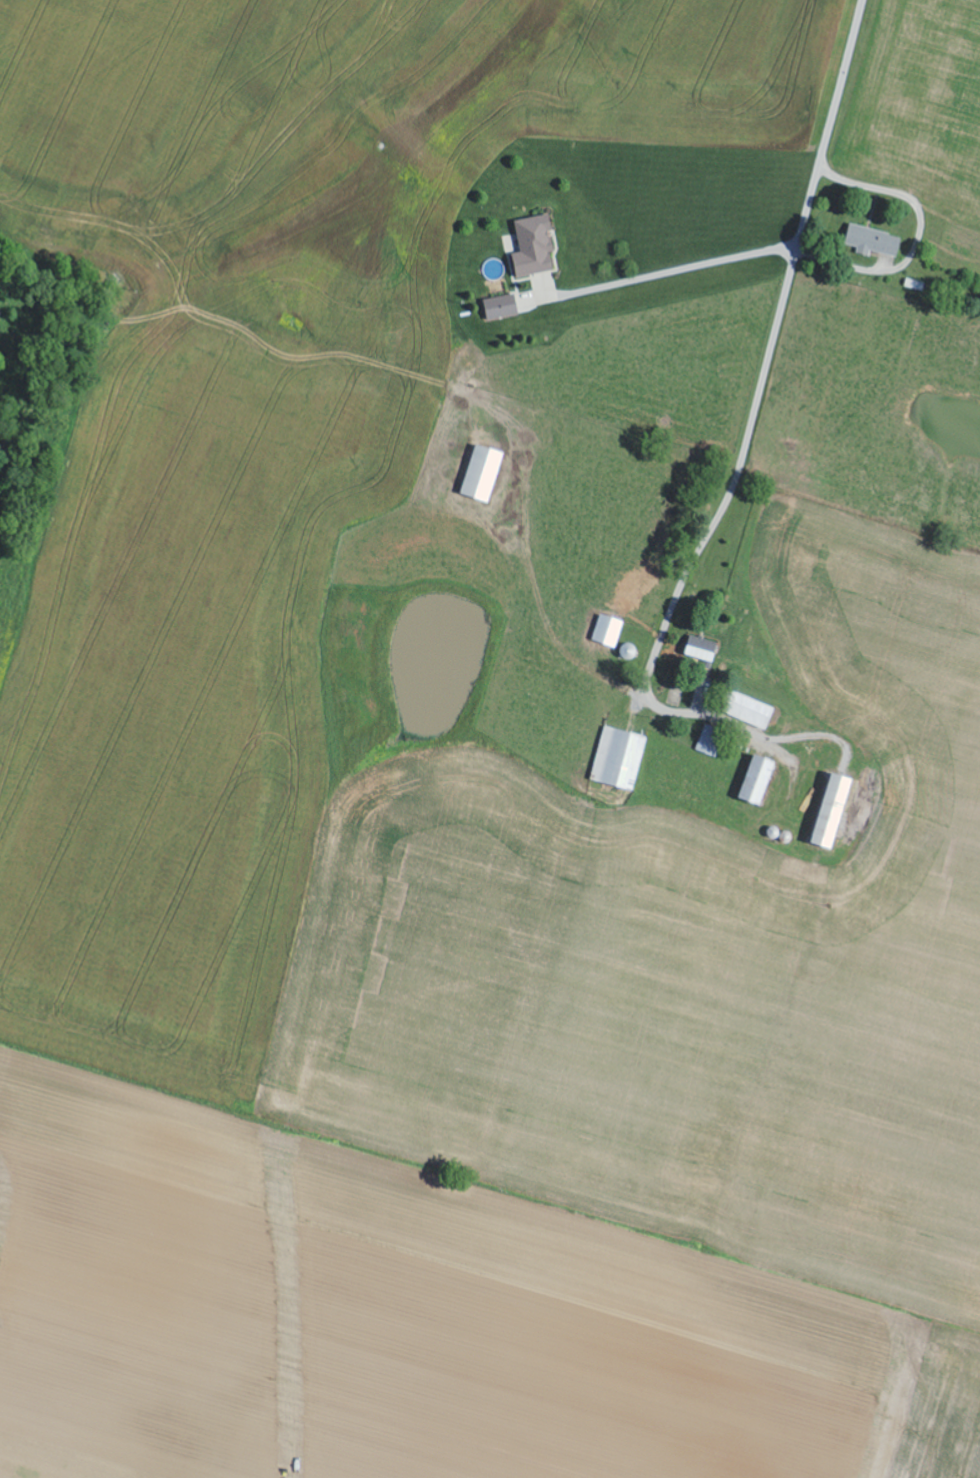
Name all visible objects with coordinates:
building: (873, 242)
building: (535, 247)
building: (502, 308)
road: (762, 386)
building: (483, 473)
building: (608, 631)
building: (702, 649)
building: (750, 711)
building: (709, 741)
building: (619, 758)
building: (759, 779)
building: (834, 810)

